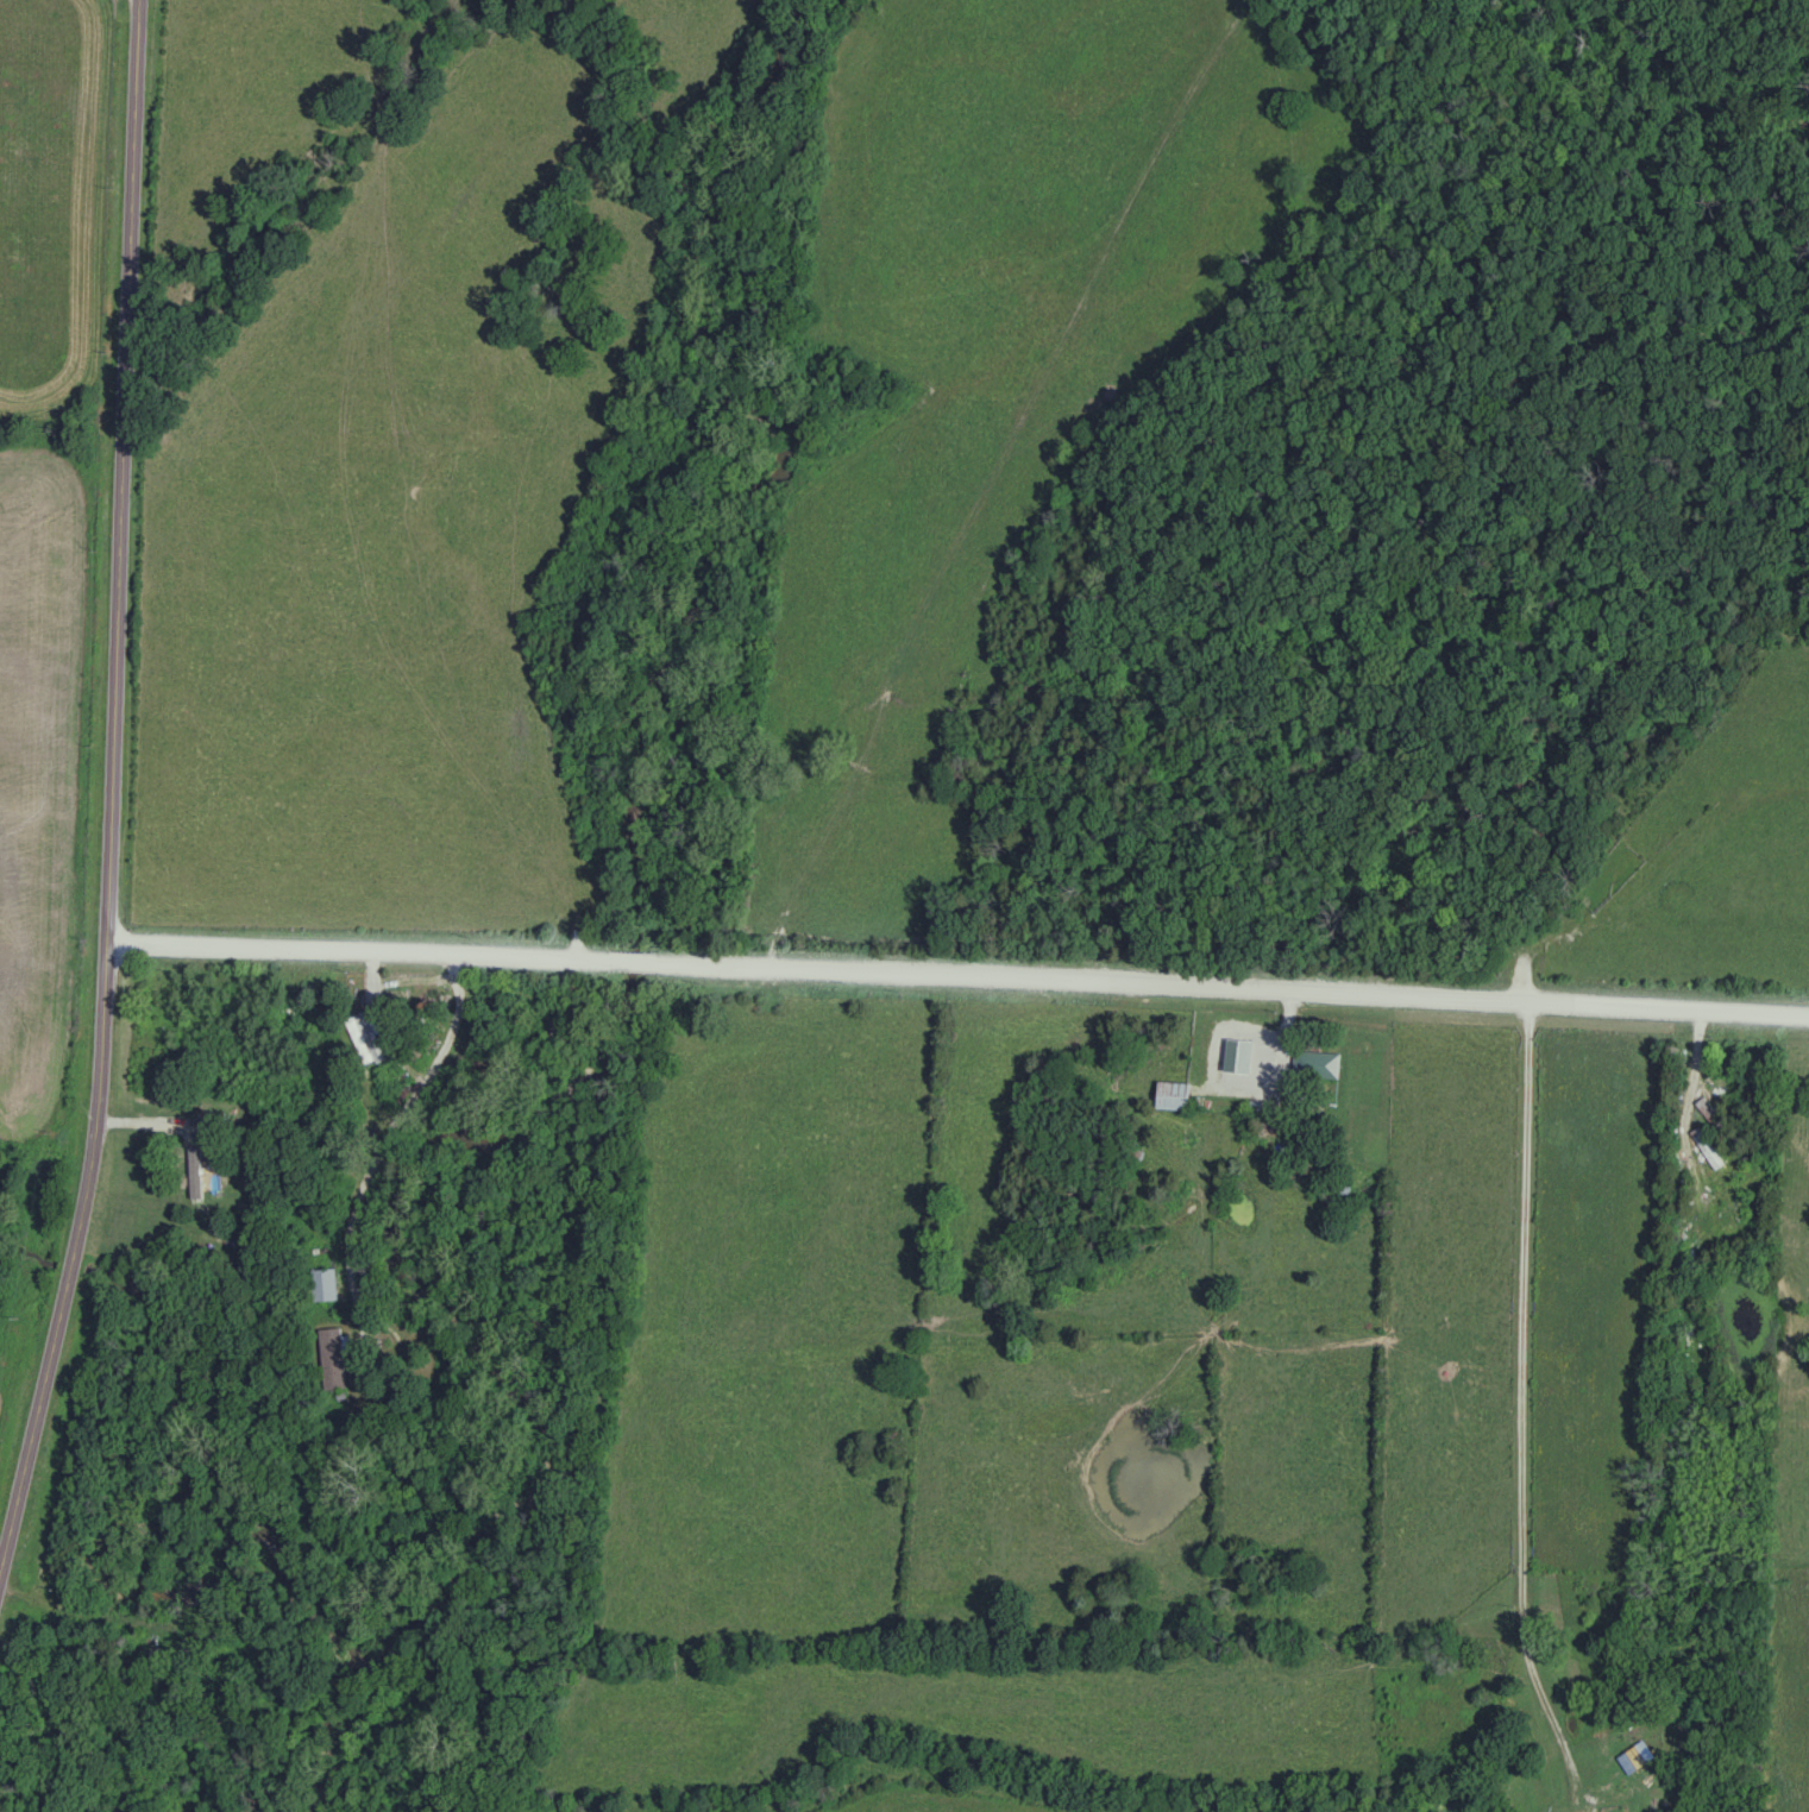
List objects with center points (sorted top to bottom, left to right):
road: (144, 1)
road: (119, 810)
parking lot: (578, 948)
road: (359, 956)
road: (613, 962)
road: (1216, 987)
building: (1319, 1064)
building: (1258, 1082)
building: (1175, 1096)
building: (1691, 1113)
road: (398, 1135)
building: (1191, 1139)
building: (325, 1284)
building: (333, 1359)
road: (1530, 1411)

